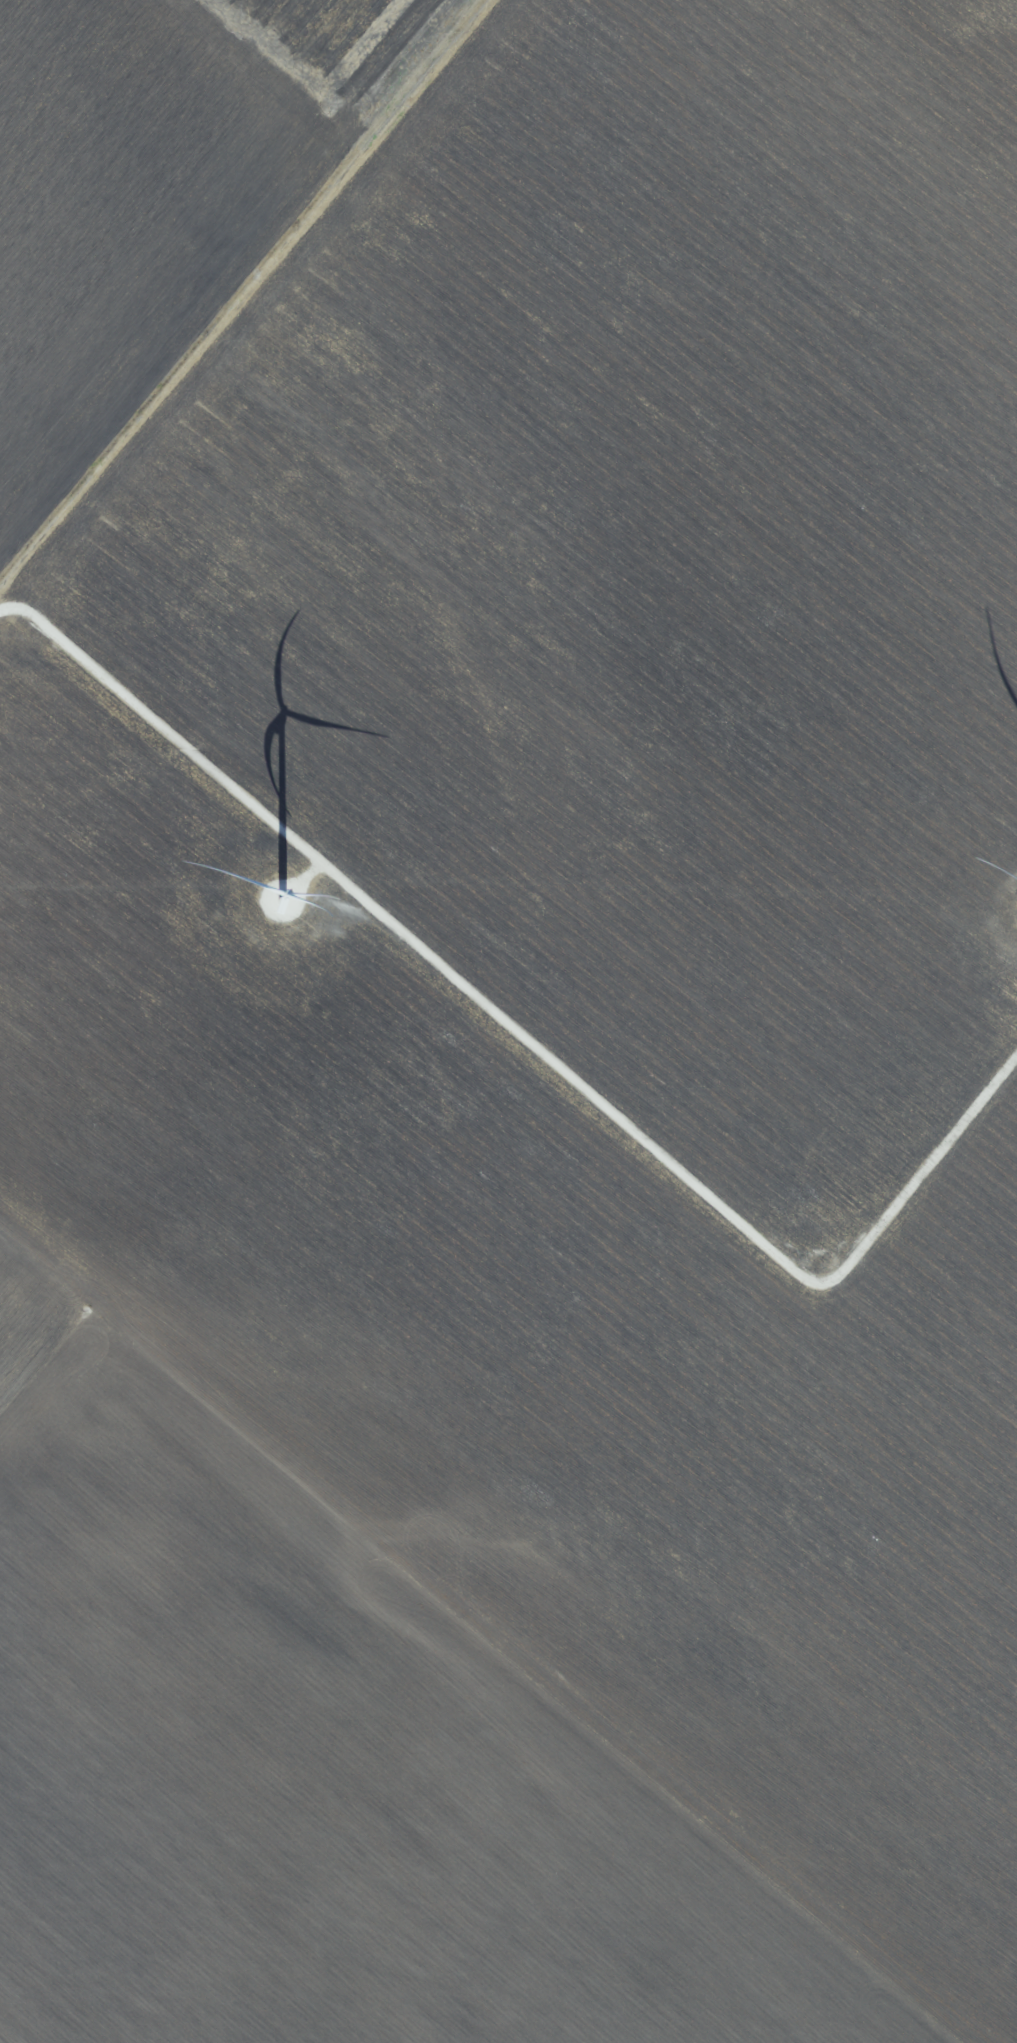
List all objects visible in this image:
wind turbine: (276, 900)

